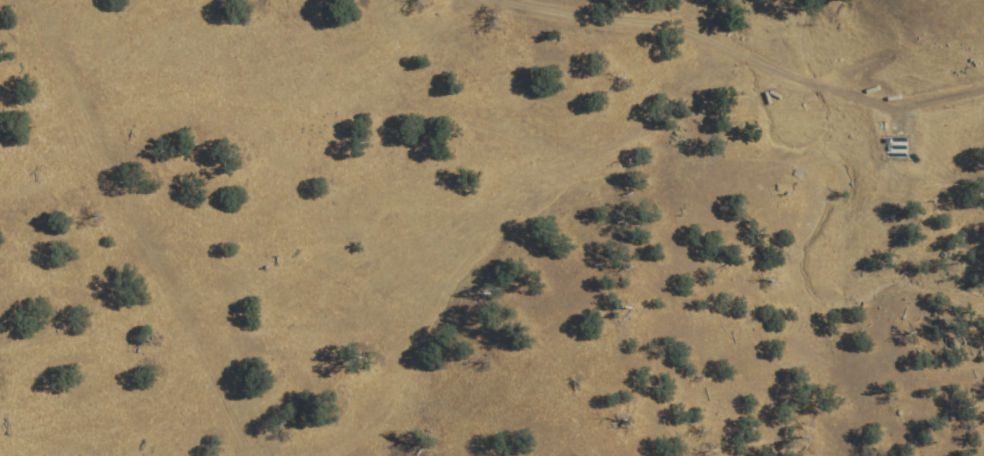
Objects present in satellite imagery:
road: (796, 30)

